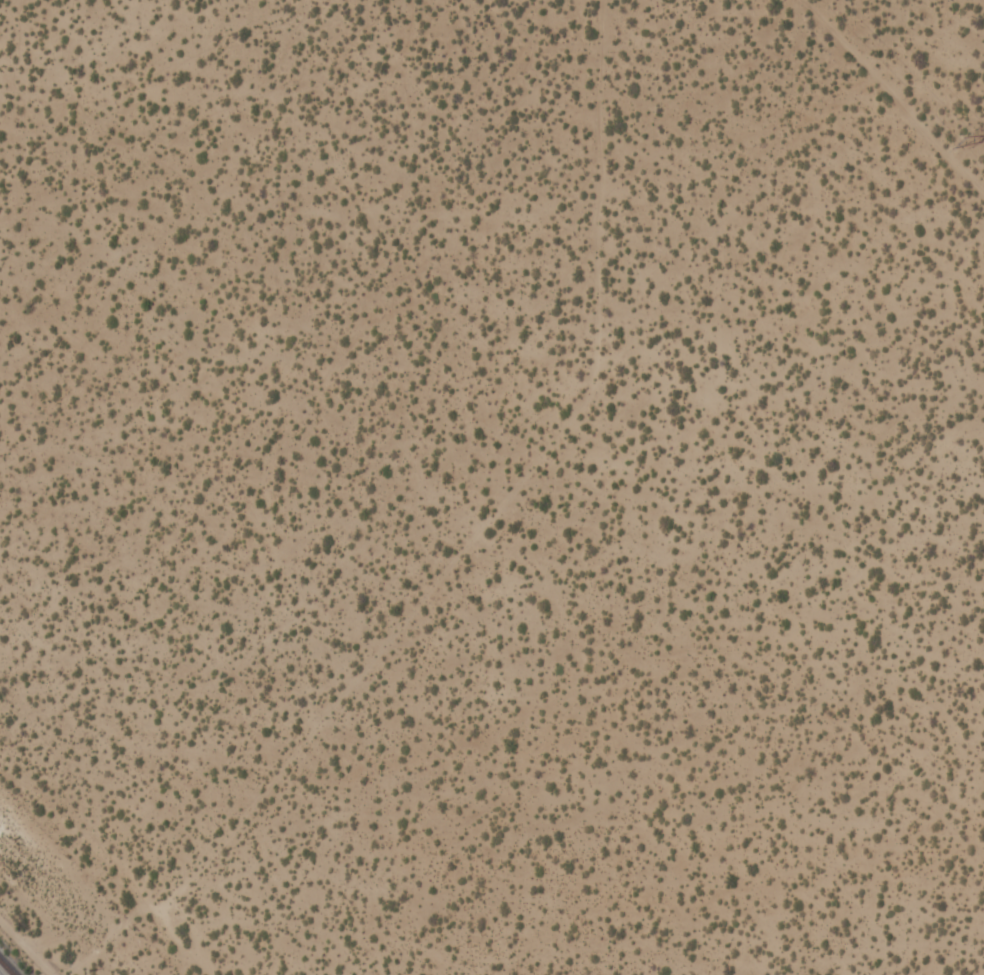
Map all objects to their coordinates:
road: (894, 95)
power tower: (956, 141)
road: (497, 499)
road: (137, 902)
road: (20, 951)
railway: (5, 969)

